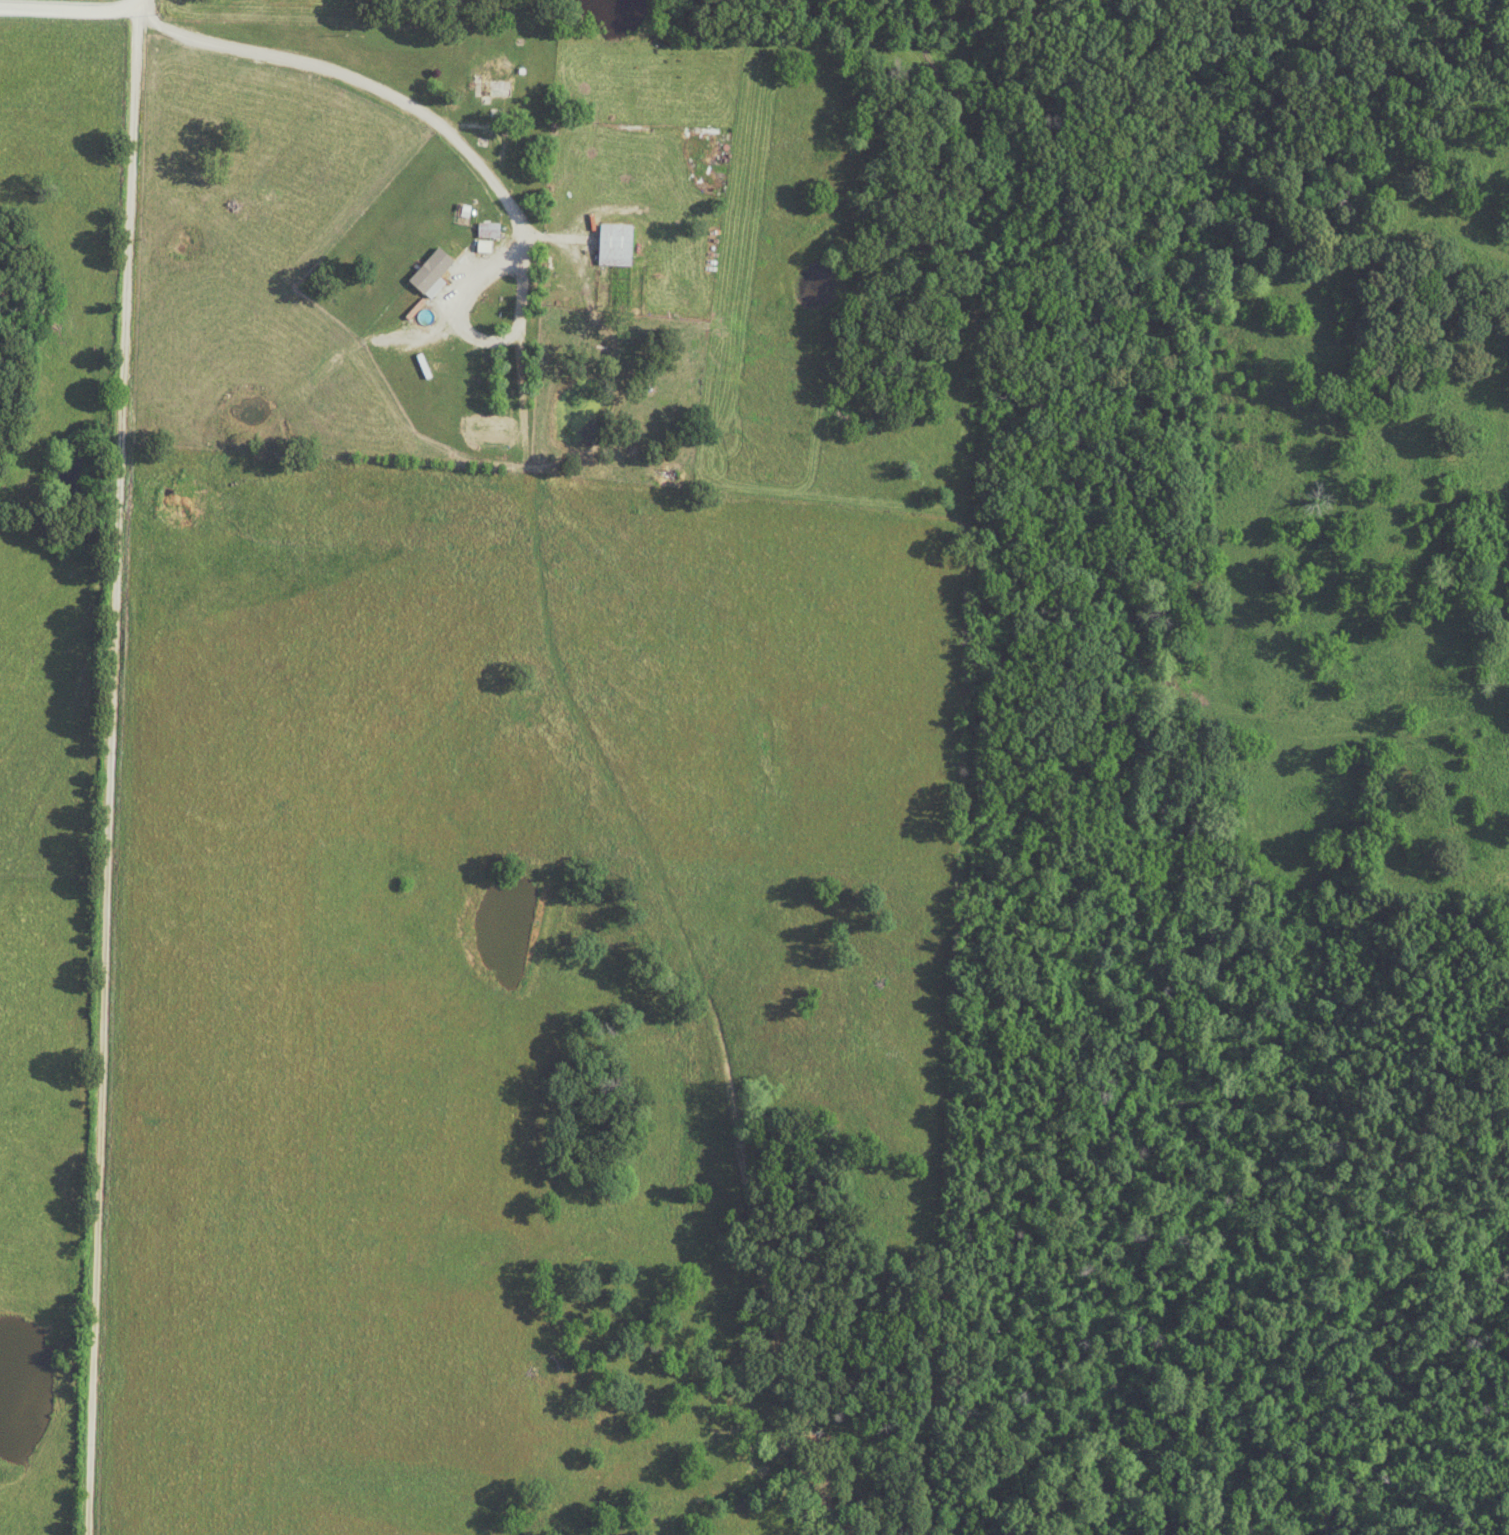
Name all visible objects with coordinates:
road: (69, 11)
building: (493, 87)
road: (389, 93)
building: (488, 229)
building: (614, 244)
road: (108, 767)

